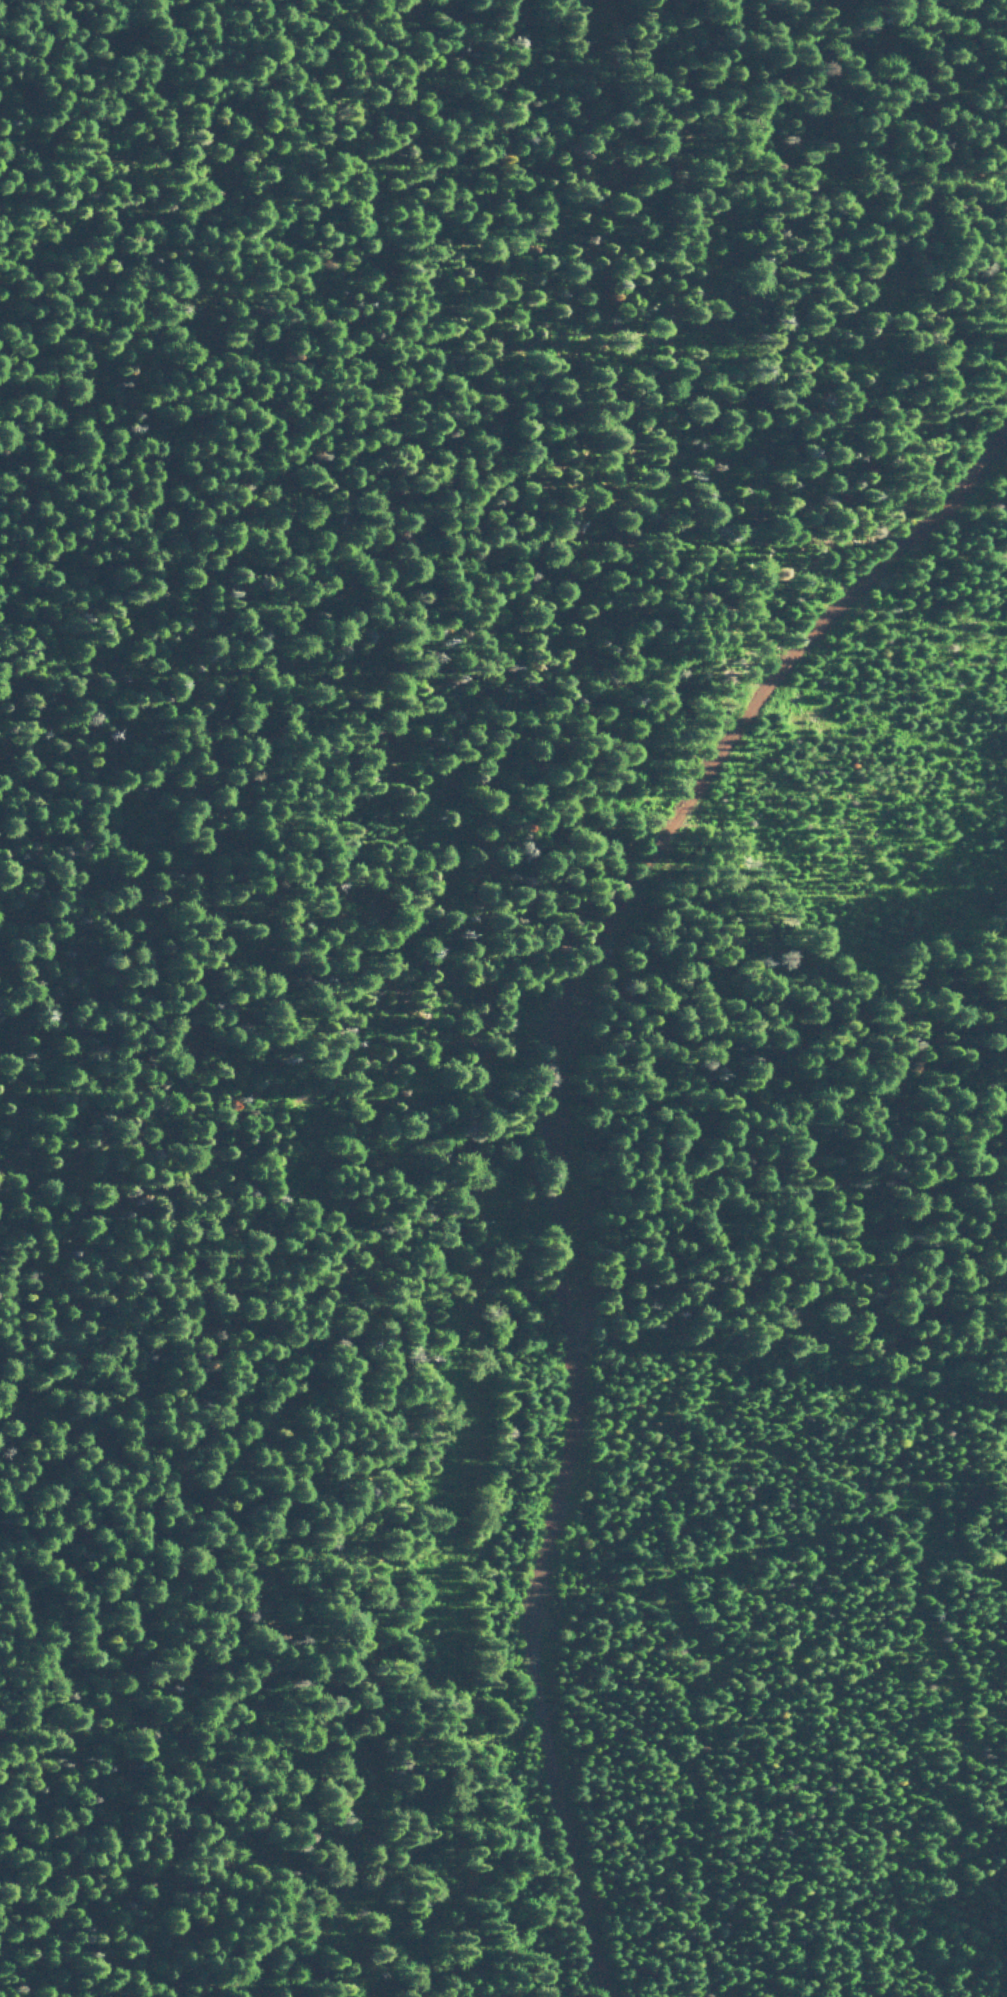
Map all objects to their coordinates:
road: (547, 1129)

